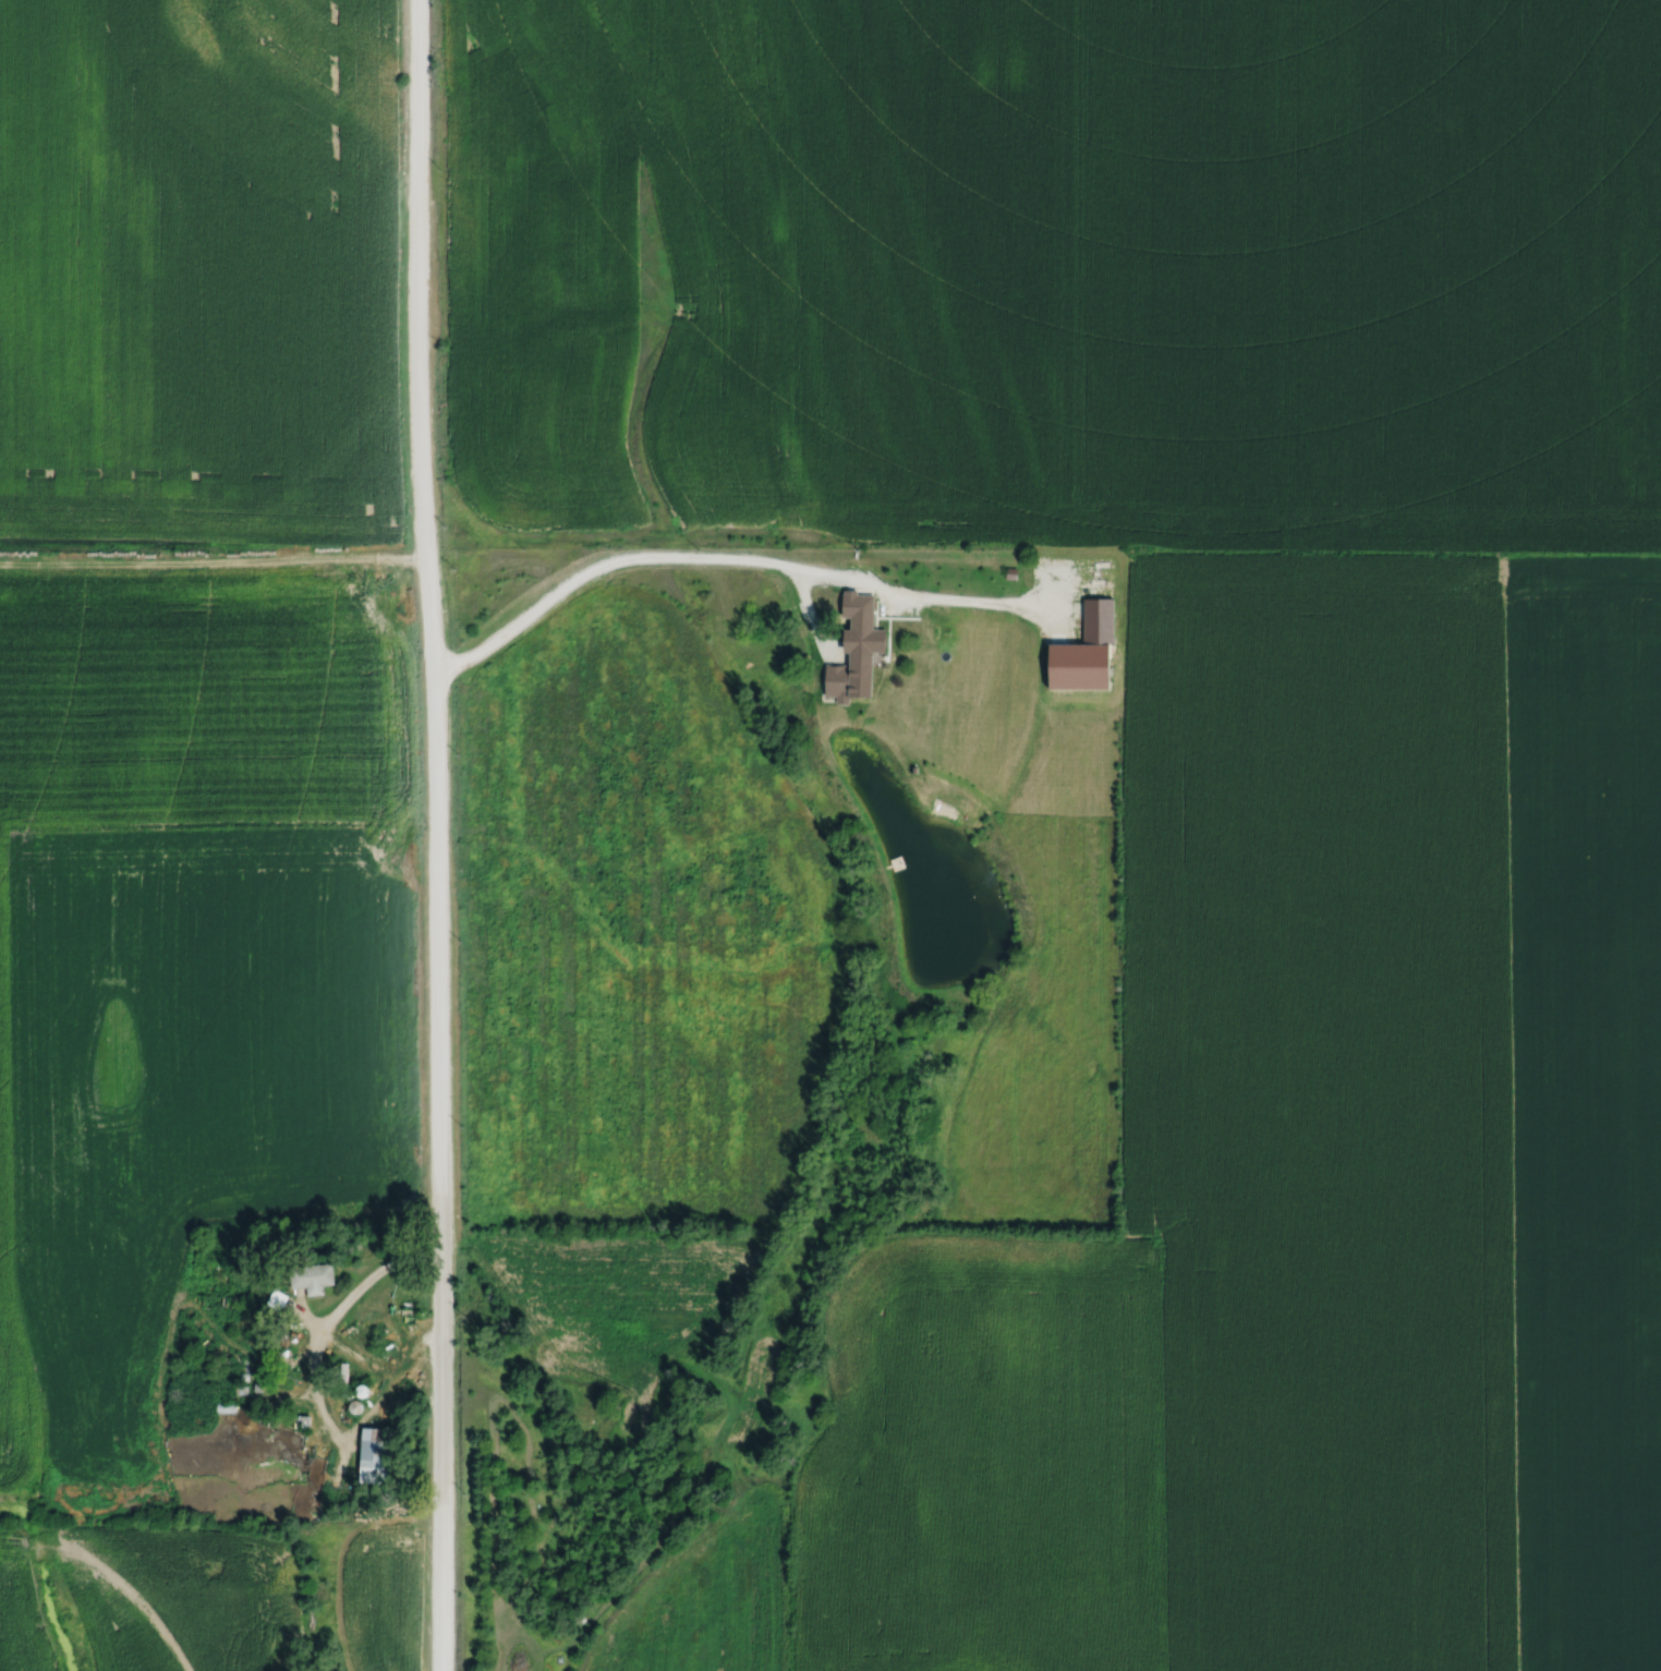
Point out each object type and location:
road: (635, 555)
building: (1105, 577)
road: (918, 592)
building: (1094, 620)
building: (856, 658)
road: (429, 835)
building: (316, 1276)
road: (360, 1294)
building: (378, 1448)

